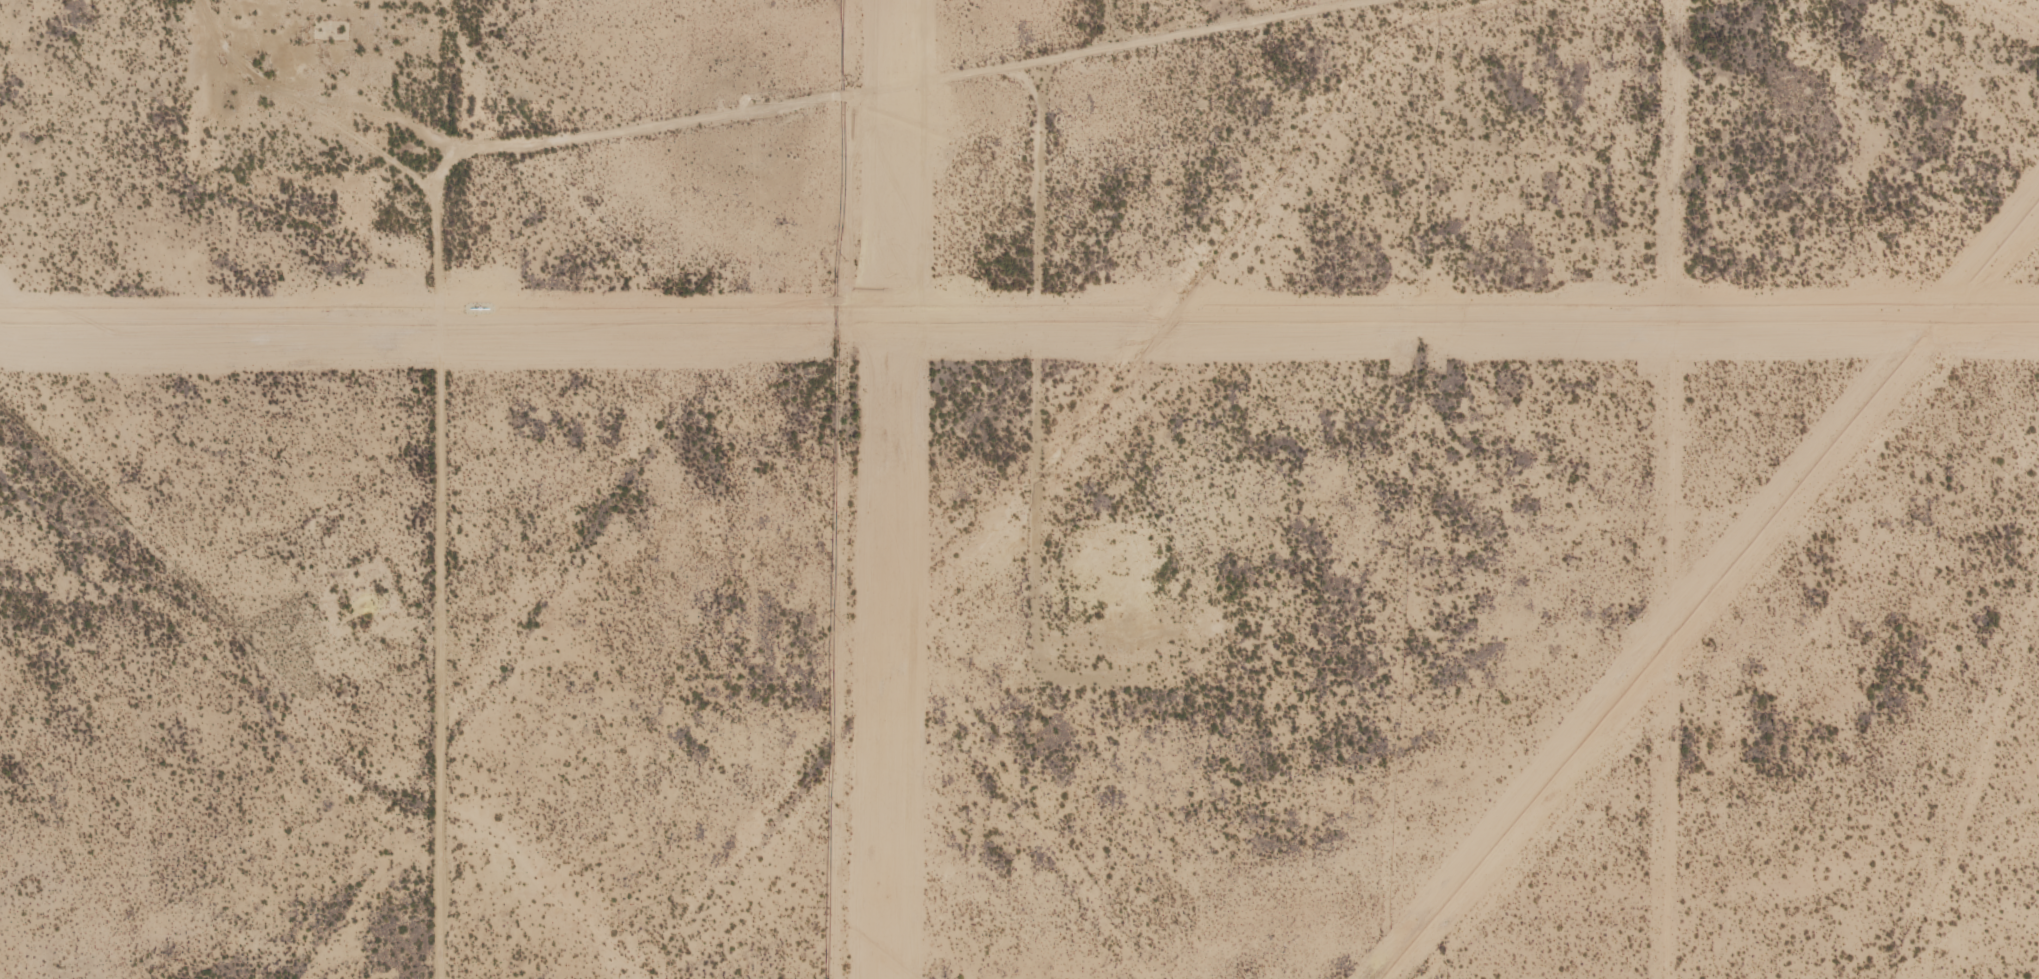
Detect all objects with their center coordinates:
road: (535, 136)
road: (2026, 233)
road: (305, 738)

